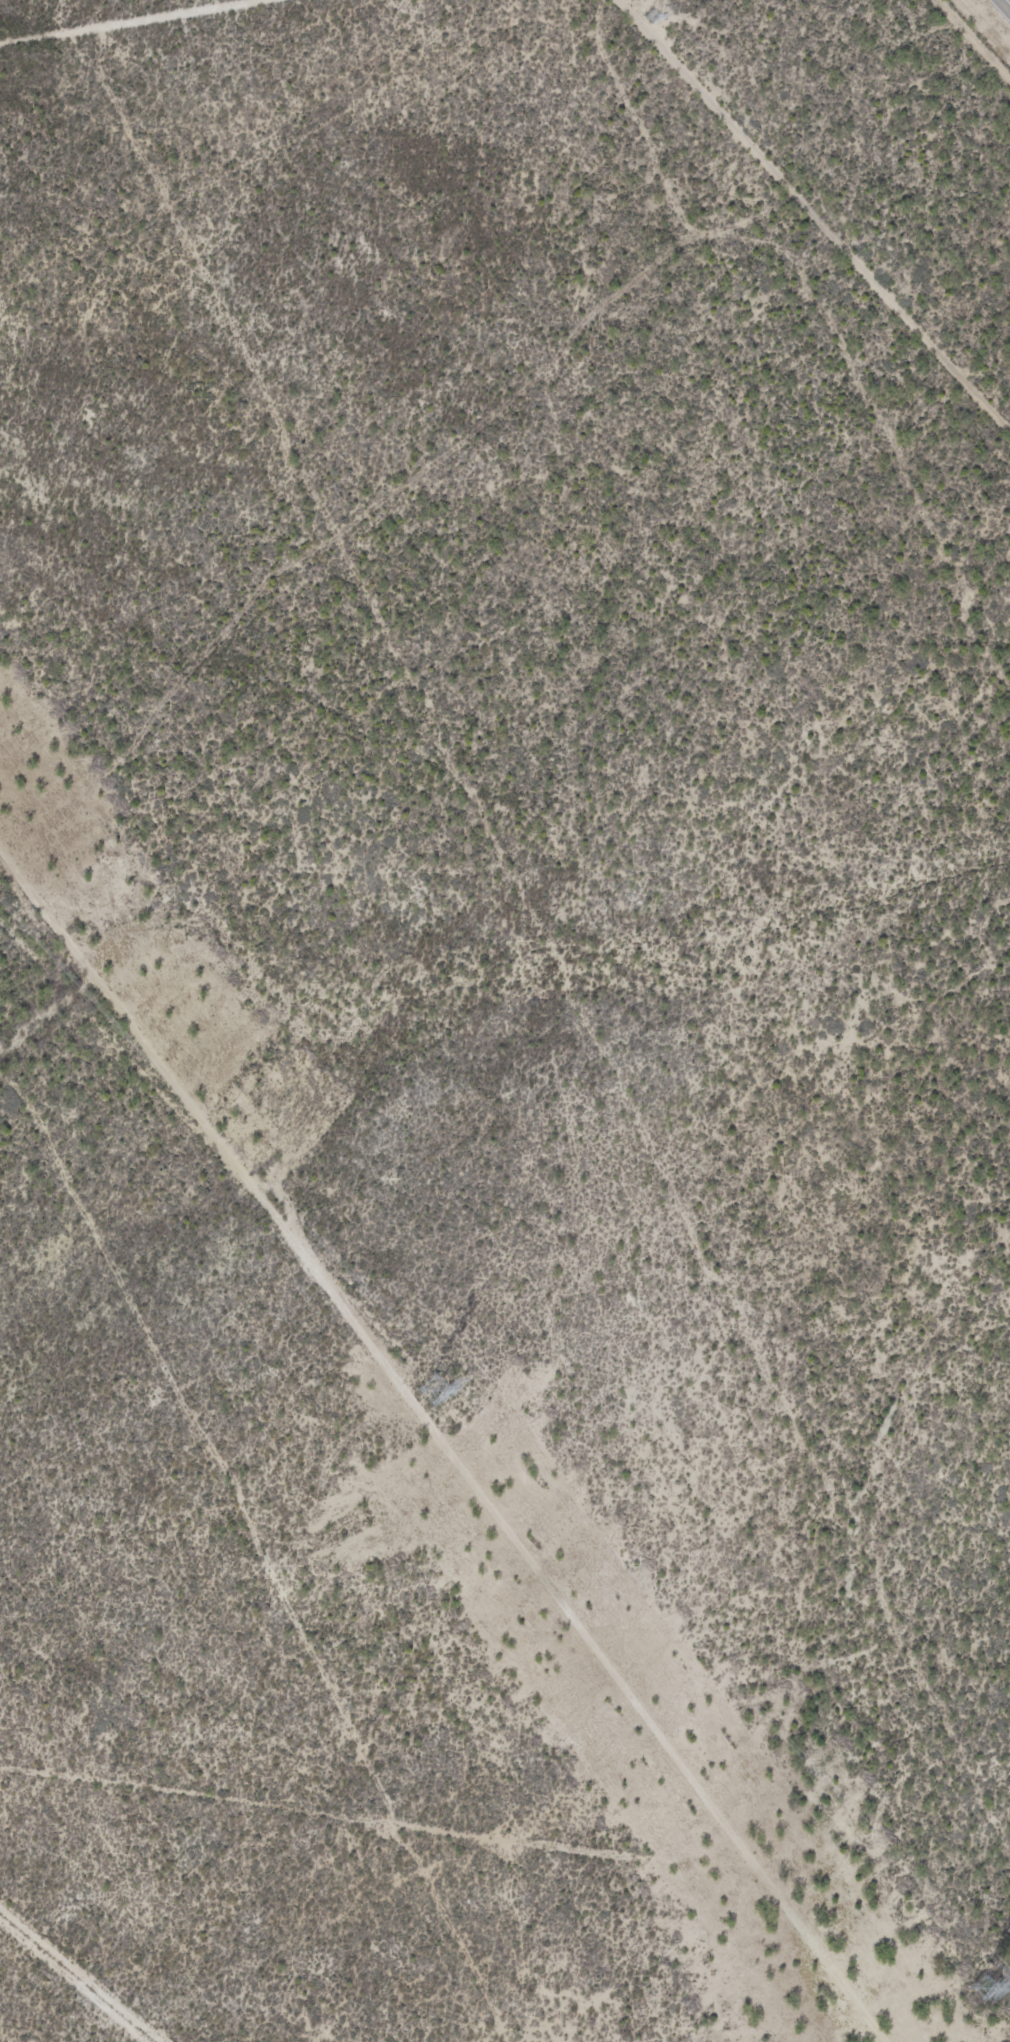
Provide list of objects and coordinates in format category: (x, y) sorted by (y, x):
power tower: (643, 16)
power tower: (428, 1386)
power tower: (984, 1987)

